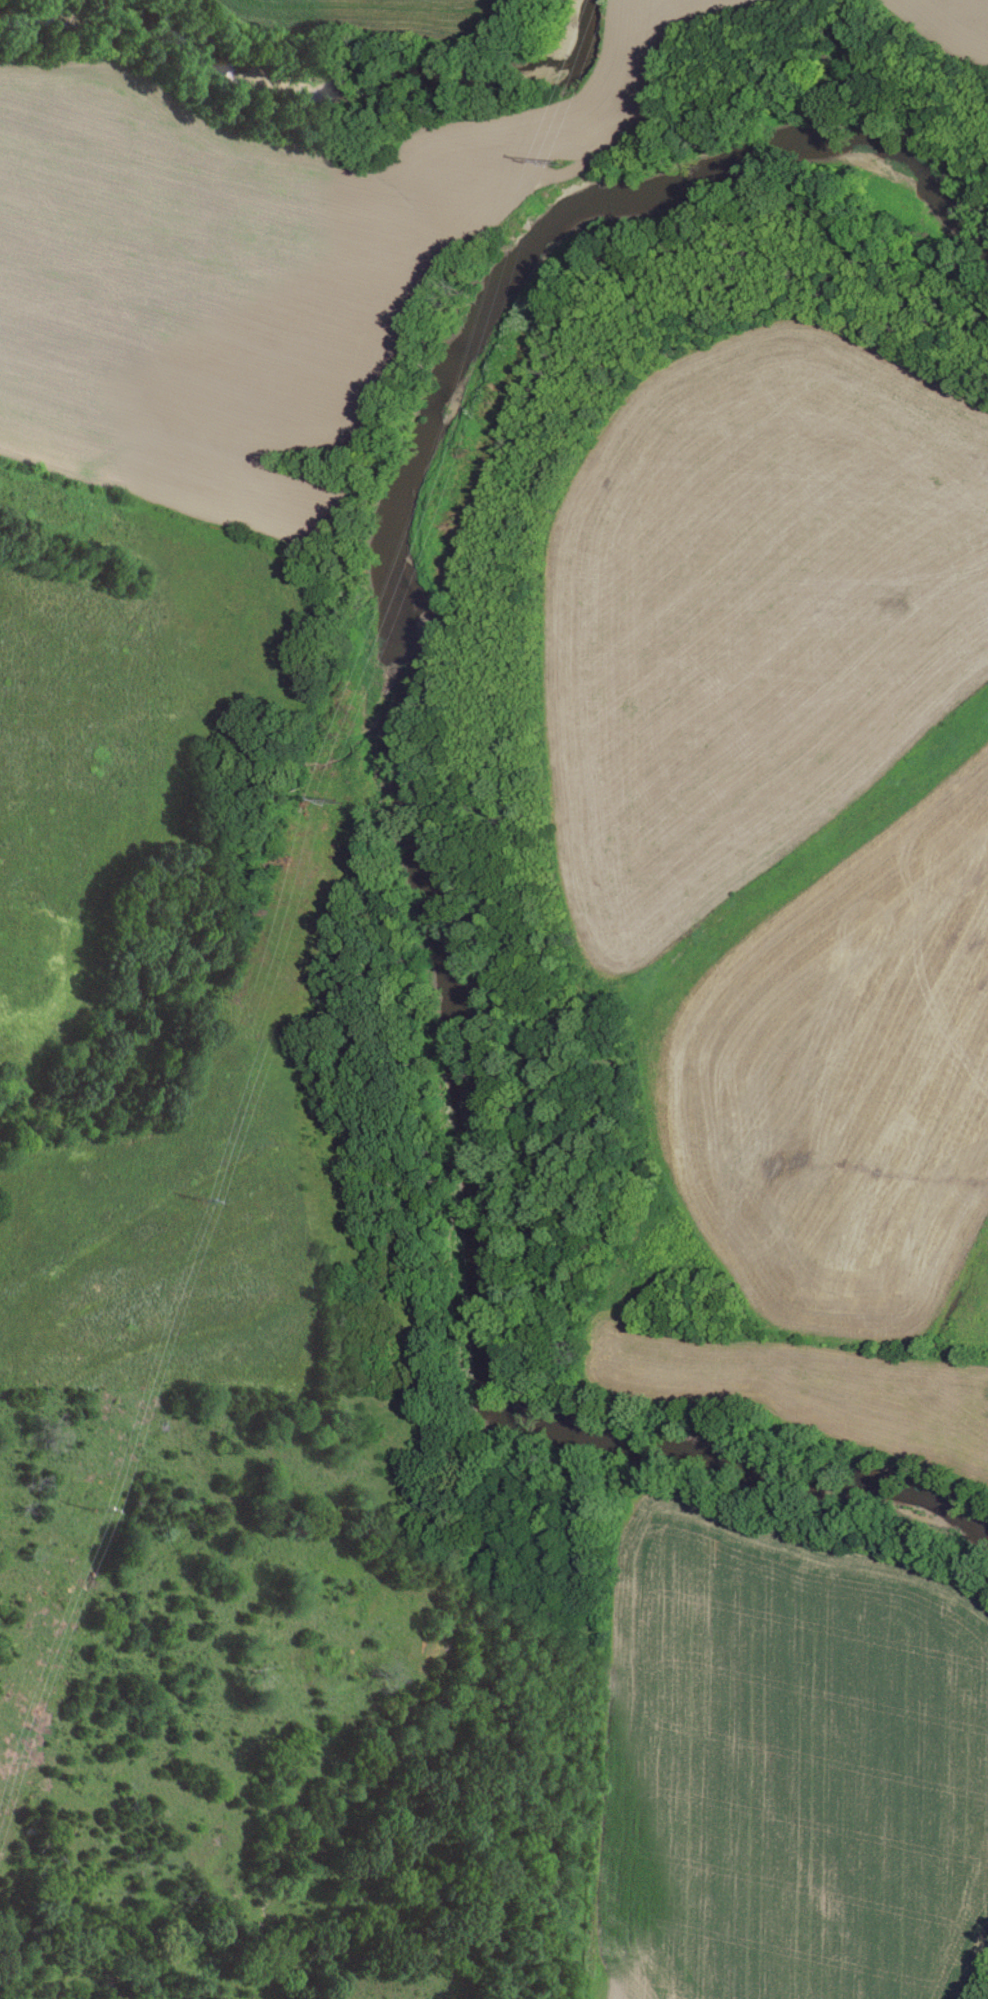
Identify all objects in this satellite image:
river: (436, 821)

